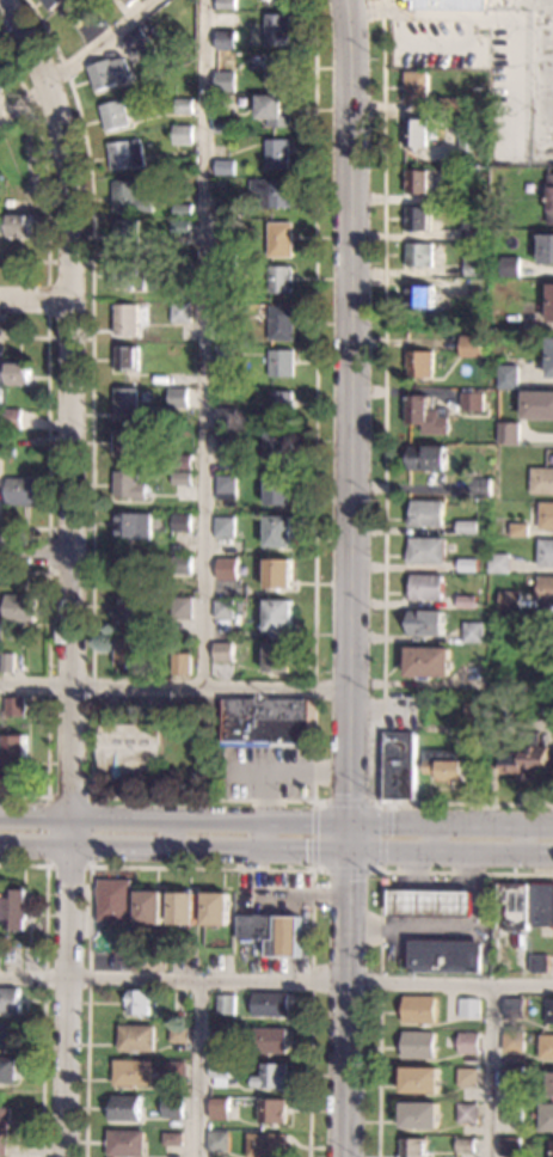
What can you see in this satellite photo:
building: (124, 1)
building: (225, 4)
building: (449, 5)
building: (67, 10)
road: (497, 14)
building: (99, 20)
building: (142, 27)
building: (278, 29)
building: (148, 33)
building: (135, 38)
building: (223, 39)
road: (457, 48)
building: (146, 50)
road: (74, 60)
building: (279, 67)
building: (107, 72)
building: (225, 81)
building: (1, 82)
building: (418, 88)
building: (0, 90)
building: (451, 104)
building: (183, 105)
building: (276, 110)
building: (113, 115)
parking lot: (509, 116)
building: (228, 126)
building: (472, 133)
building: (182, 134)
building: (418, 134)
building: (277, 153)
building: (125, 154)
building: (225, 167)
road: (47, 172)
building: (419, 182)
building: (272, 192)
building: (449, 194)
building: (129, 197)
building: (551, 200)
building: (183, 210)
building: (226, 210)
building: (419, 218)
building: (19, 225)
building: (180, 226)
building: (474, 232)
building: (127, 234)
building: (279, 239)
building: (479, 246)
building: (226, 247)
building: (547, 250)
building: (420, 255)
building: (473, 263)
building: (510, 267)
building: (226, 270)
building: (182, 271)
building: (129, 275)
building: (278, 280)
building: (420, 298)
road: (36, 300)
road: (48, 300)
building: (551, 302)
building: (180, 312)
building: (223, 312)
building: (125, 319)
building: (279, 323)
building: (220, 336)
road: (204, 344)
building: (469, 345)
building: (222, 355)
building: (125, 357)
building: (549, 359)
building: (279, 363)
building: (419, 363)
building: (18, 374)
building: (228, 375)
building: (506, 377)
building: (177, 397)
building: (471, 402)
building: (125, 403)
building: (281, 403)
building: (537, 405)
building: (424, 416)
building: (13, 417)
building: (0, 418)
building: (225, 418)
road: (350, 423)
road: (47, 431)
building: (508, 433)
building: (125, 440)
building: (225, 442)
building: (1, 446)
building: (278, 447)
building: (8, 453)
building: (428, 458)
building: (180, 461)
building: (182, 478)
building: (541, 480)
building: (127, 485)
building: (226, 486)
building: (480, 486)
road: (381, 488)
building: (278, 490)
building: (21, 491)
building: (425, 513)
building: (546, 515)
building: (180, 522)
building: (131, 526)
building: (223, 526)
building: (466, 527)
building: (518, 529)
building: (278, 532)
road: (35, 550)
road: (47, 550)
building: (425, 551)
building: (545, 552)
building: (498, 563)
building: (182, 564)
building: (467, 565)
building: (226, 569)
road: (70, 570)
building: (127, 570)
building: (278, 574)
building: (425, 587)
building: (545, 589)
building: (510, 601)
building: (466, 602)
building: (19, 607)
building: (238, 607)
building: (176, 608)
building: (128, 610)
building: (223, 610)
building: (278, 616)
building: (425, 623)
building: (473, 632)
building: (124, 650)
building: (223, 653)
building: (277, 657)
building: (6, 661)
building: (428, 662)
building: (180, 663)
building: (30, 671)
road: (48, 685)
road: (174, 687)
building: (14, 708)
building: (474, 716)
building: (266, 720)
building: (128, 748)
building: (14, 752)
building: (527, 759)
building: (443, 765)
building: (399, 766)
traffic signals: (349, 794)
road: (196, 798)
road: (173, 822)
traffic signals: (391, 826)
road: (450, 826)
road: (174, 843)
traffic signals: (305, 845)
road: (450, 850)
road: (88, 867)
road: (199, 868)
road: (408, 869)
road: (379, 871)
traffic signals: (349, 881)
building: (113, 900)
building: (432, 902)
road: (410, 904)
building: (542, 905)
building: (149, 907)
building: (514, 907)
building: (183, 908)
building: (215, 908)
building: (16, 911)
road: (411, 923)
road: (453, 926)
building: (257, 928)
road: (380, 928)
building: (446, 956)
building: (0, 962)
building: (537, 963)
road: (276, 981)
road: (43, 988)
building: (10, 999)
road: (346, 1002)
building: (137, 1003)
building: (225, 1004)
building: (269, 1005)
building: (468, 1008)
building: (514, 1008)
building: (419, 1010)
building: (549, 1011)
building: (177, 1034)
building: (221, 1035)
building: (8, 1036)
building: (135, 1037)
building: (270, 1040)
building: (512, 1041)
building: (468, 1043)
building: (418, 1045)
building: (546, 1047)
road: (198, 1069)
building: (7, 1070)
road: (492, 1070)
building: (131, 1072)
building: (174, 1072)
building: (219, 1073)
building: (512, 1075)
building: (272, 1077)
building: (467, 1077)
building: (420, 1081)
building: (551, 1084)
building: (172, 1107)
building: (125, 1108)
building: (219, 1109)
building: (271, 1112)
building: (467, 1113)
building: (512, 1113)
building: (419, 1115)
building: (546, 1118)
building: (4, 1128)
building: (173, 1139)
building: (219, 1141)
building: (125, 1143)
building: (265, 1145)
building: (465, 1145)
building: (509, 1146)
building: (413, 1147)
building: (551, 1149)

